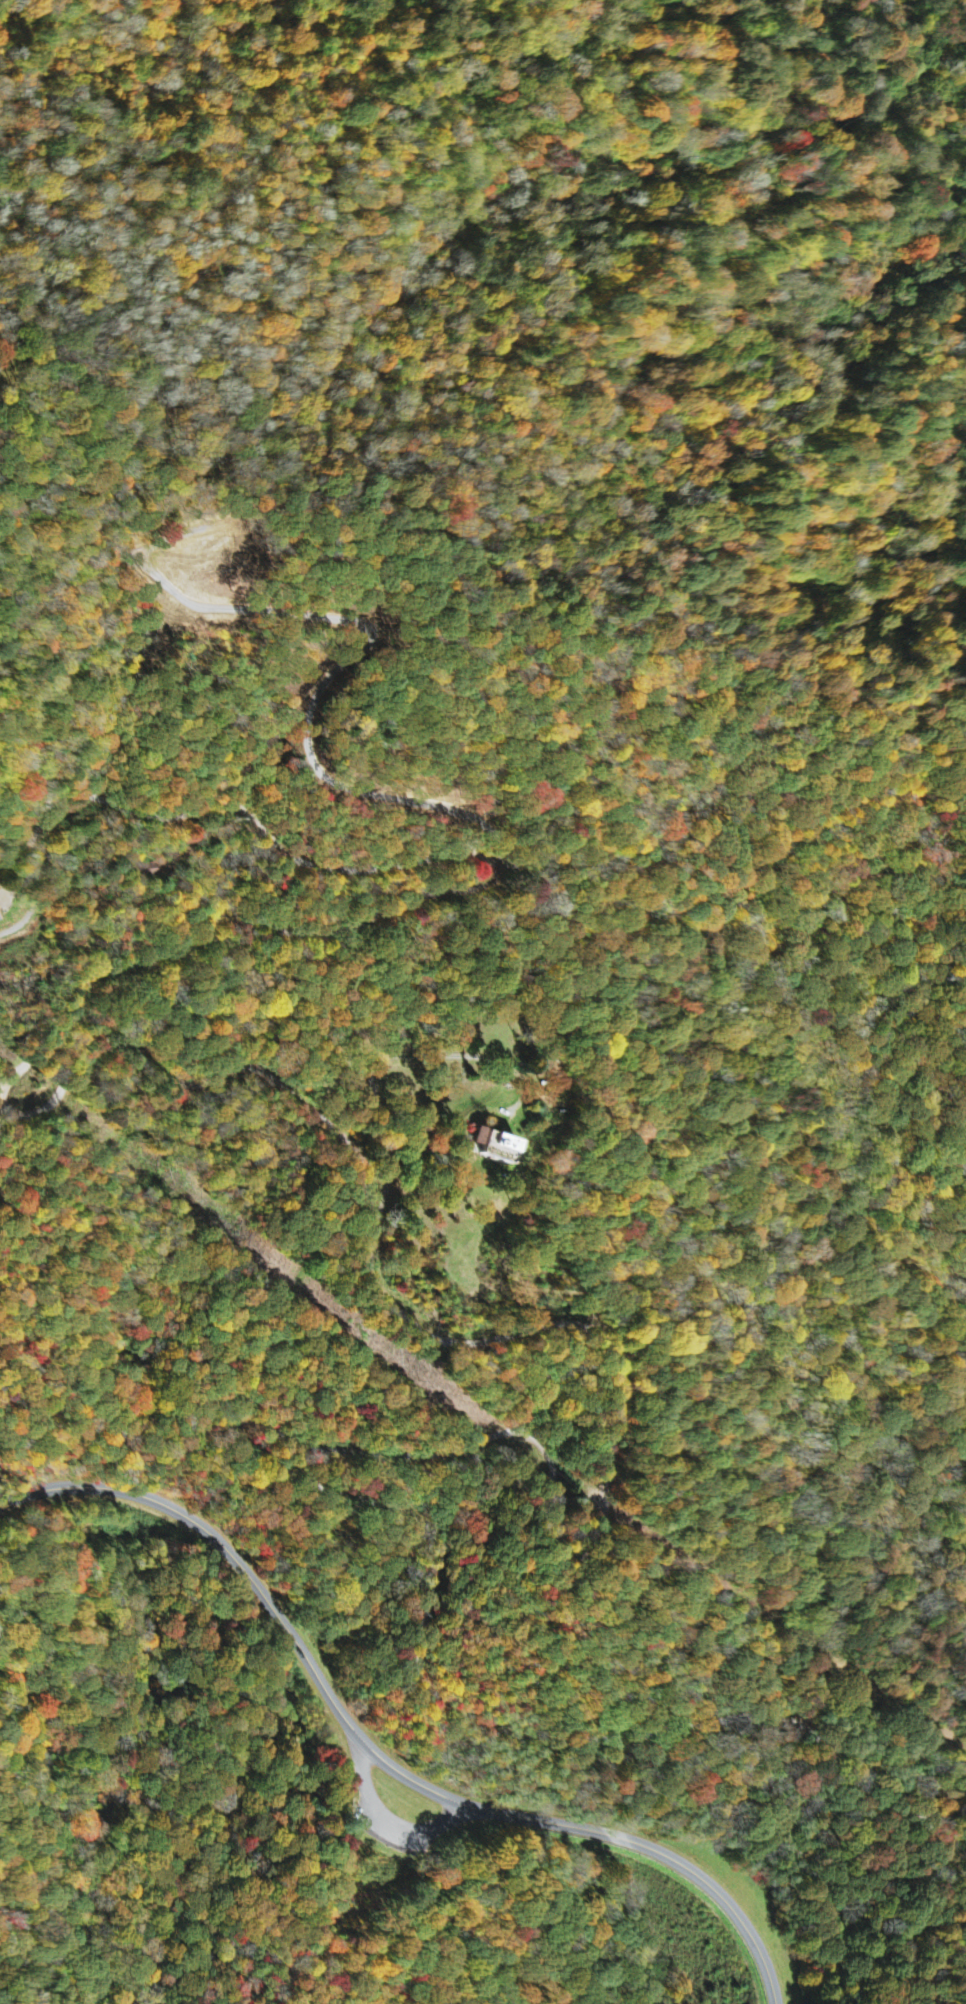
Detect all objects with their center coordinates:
road: (149, 1060)
building: (493, 1147)
road: (133, 1298)
road: (792, 1349)
road: (591, 1739)
road: (378, 1751)
road: (366, 1795)
road: (384, 1823)
parking lot: (393, 1823)

